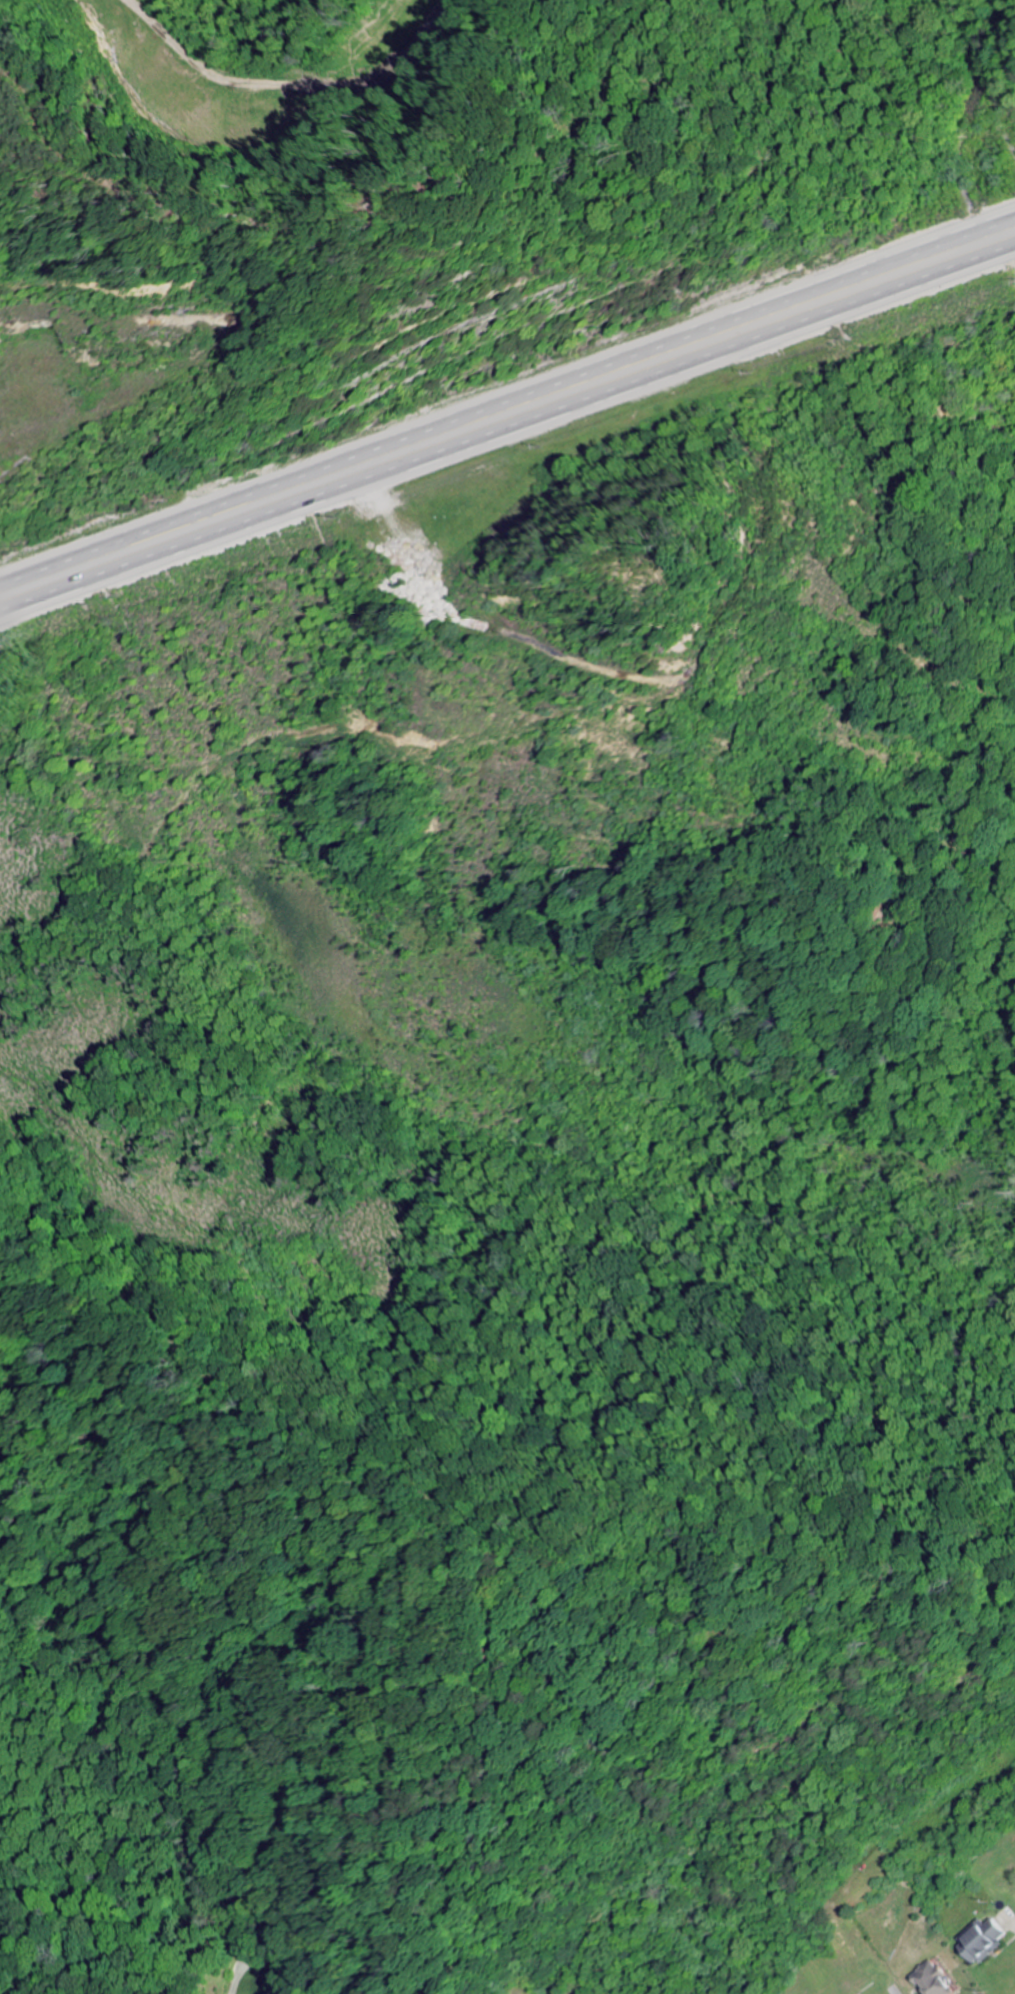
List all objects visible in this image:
road: (507, 397)
road: (507, 431)
building: (986, 1941)
road: (294, 1970)
building: (937, 1981)

